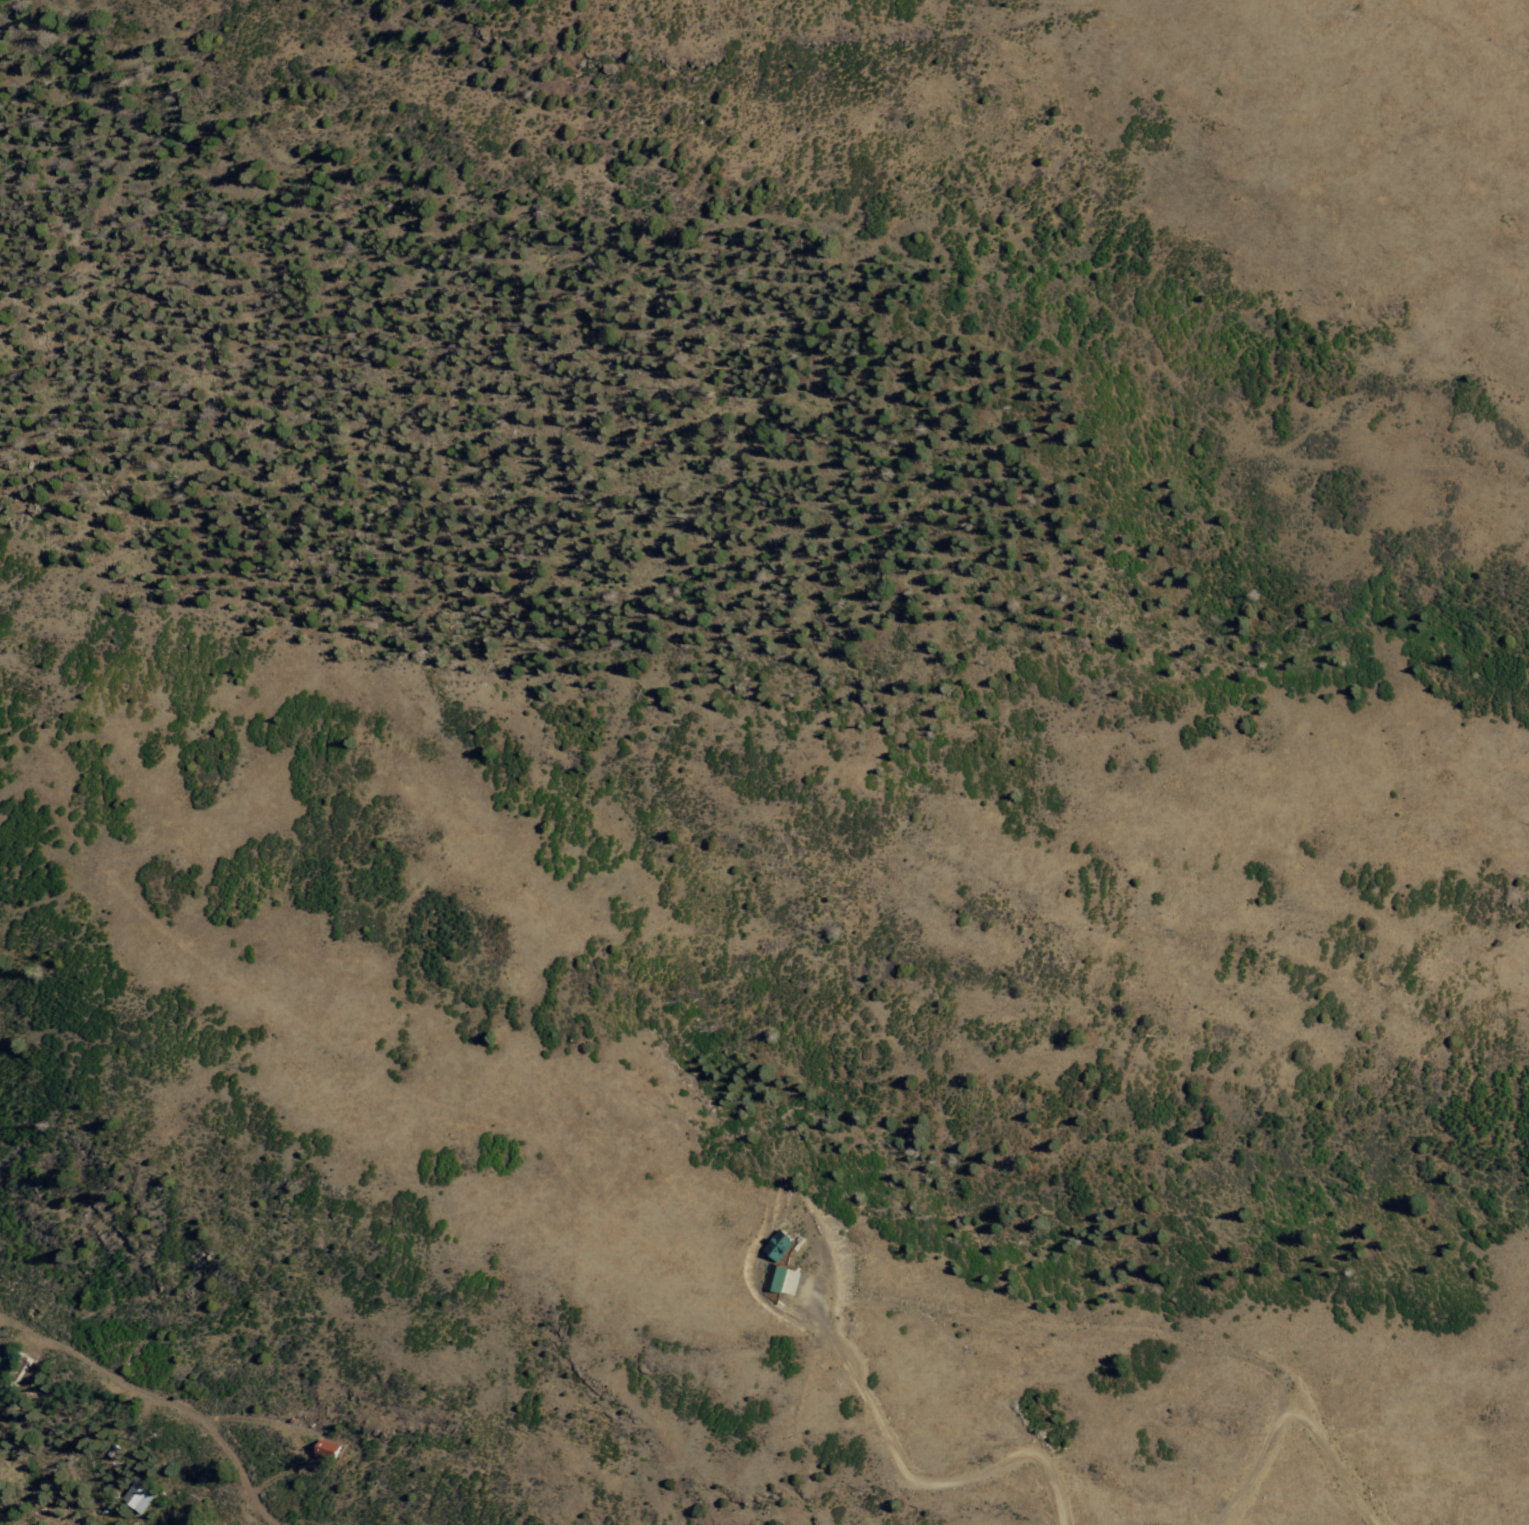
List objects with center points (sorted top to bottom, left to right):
building: (782, 1244)
building: (782, 1278)
road: (185, 1428)
building: (330, 1448)
building: (140, 1495)

